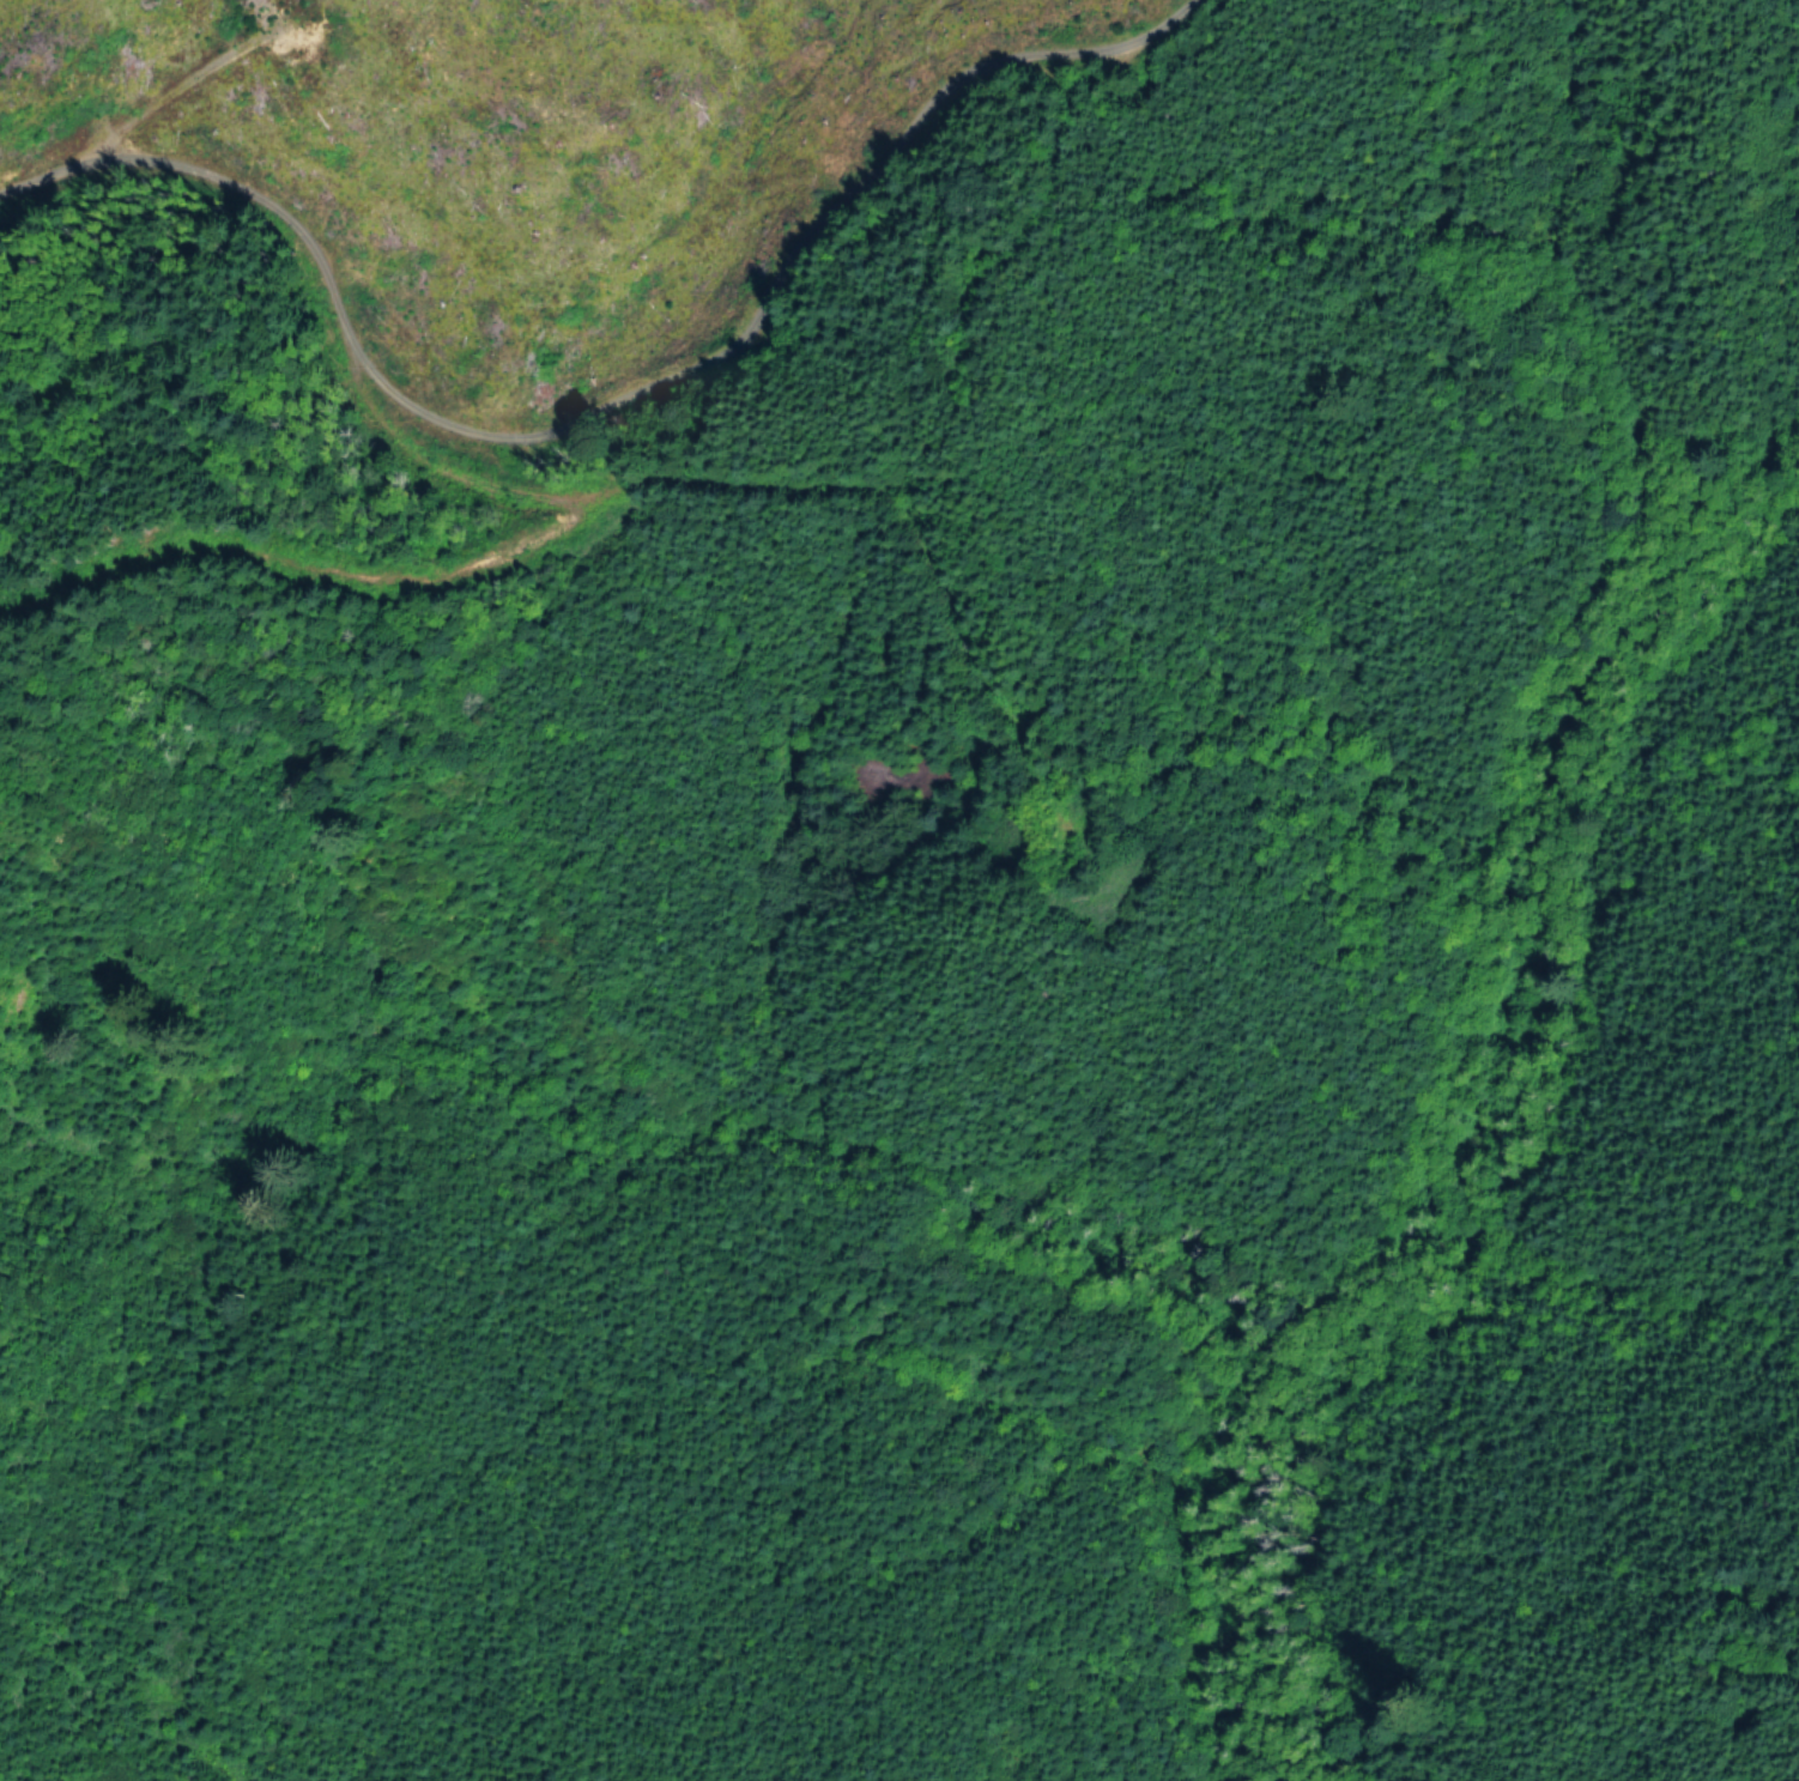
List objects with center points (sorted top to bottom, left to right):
road: (483, 437)
road: (806, 556)

